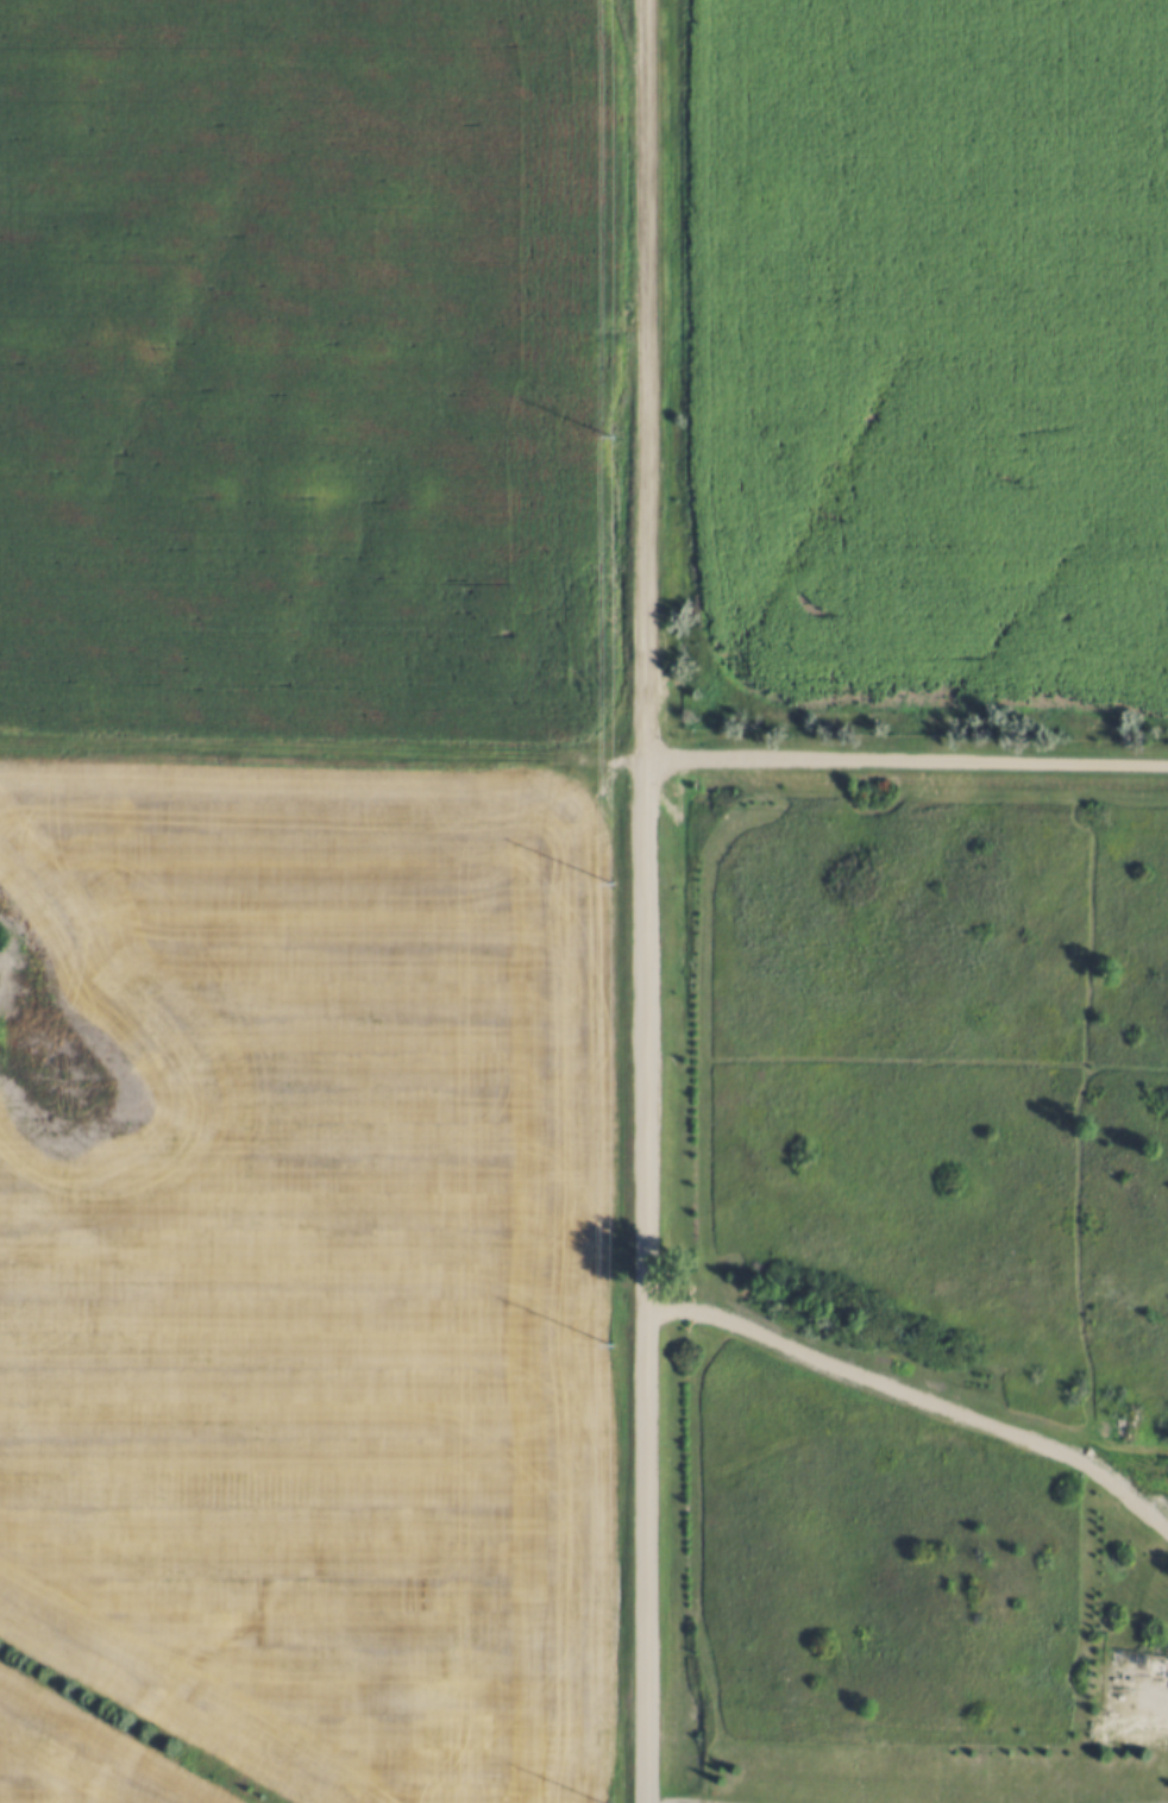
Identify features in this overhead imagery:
road: (646, 381)
road: (908, 764)
road: (646, 1282)

